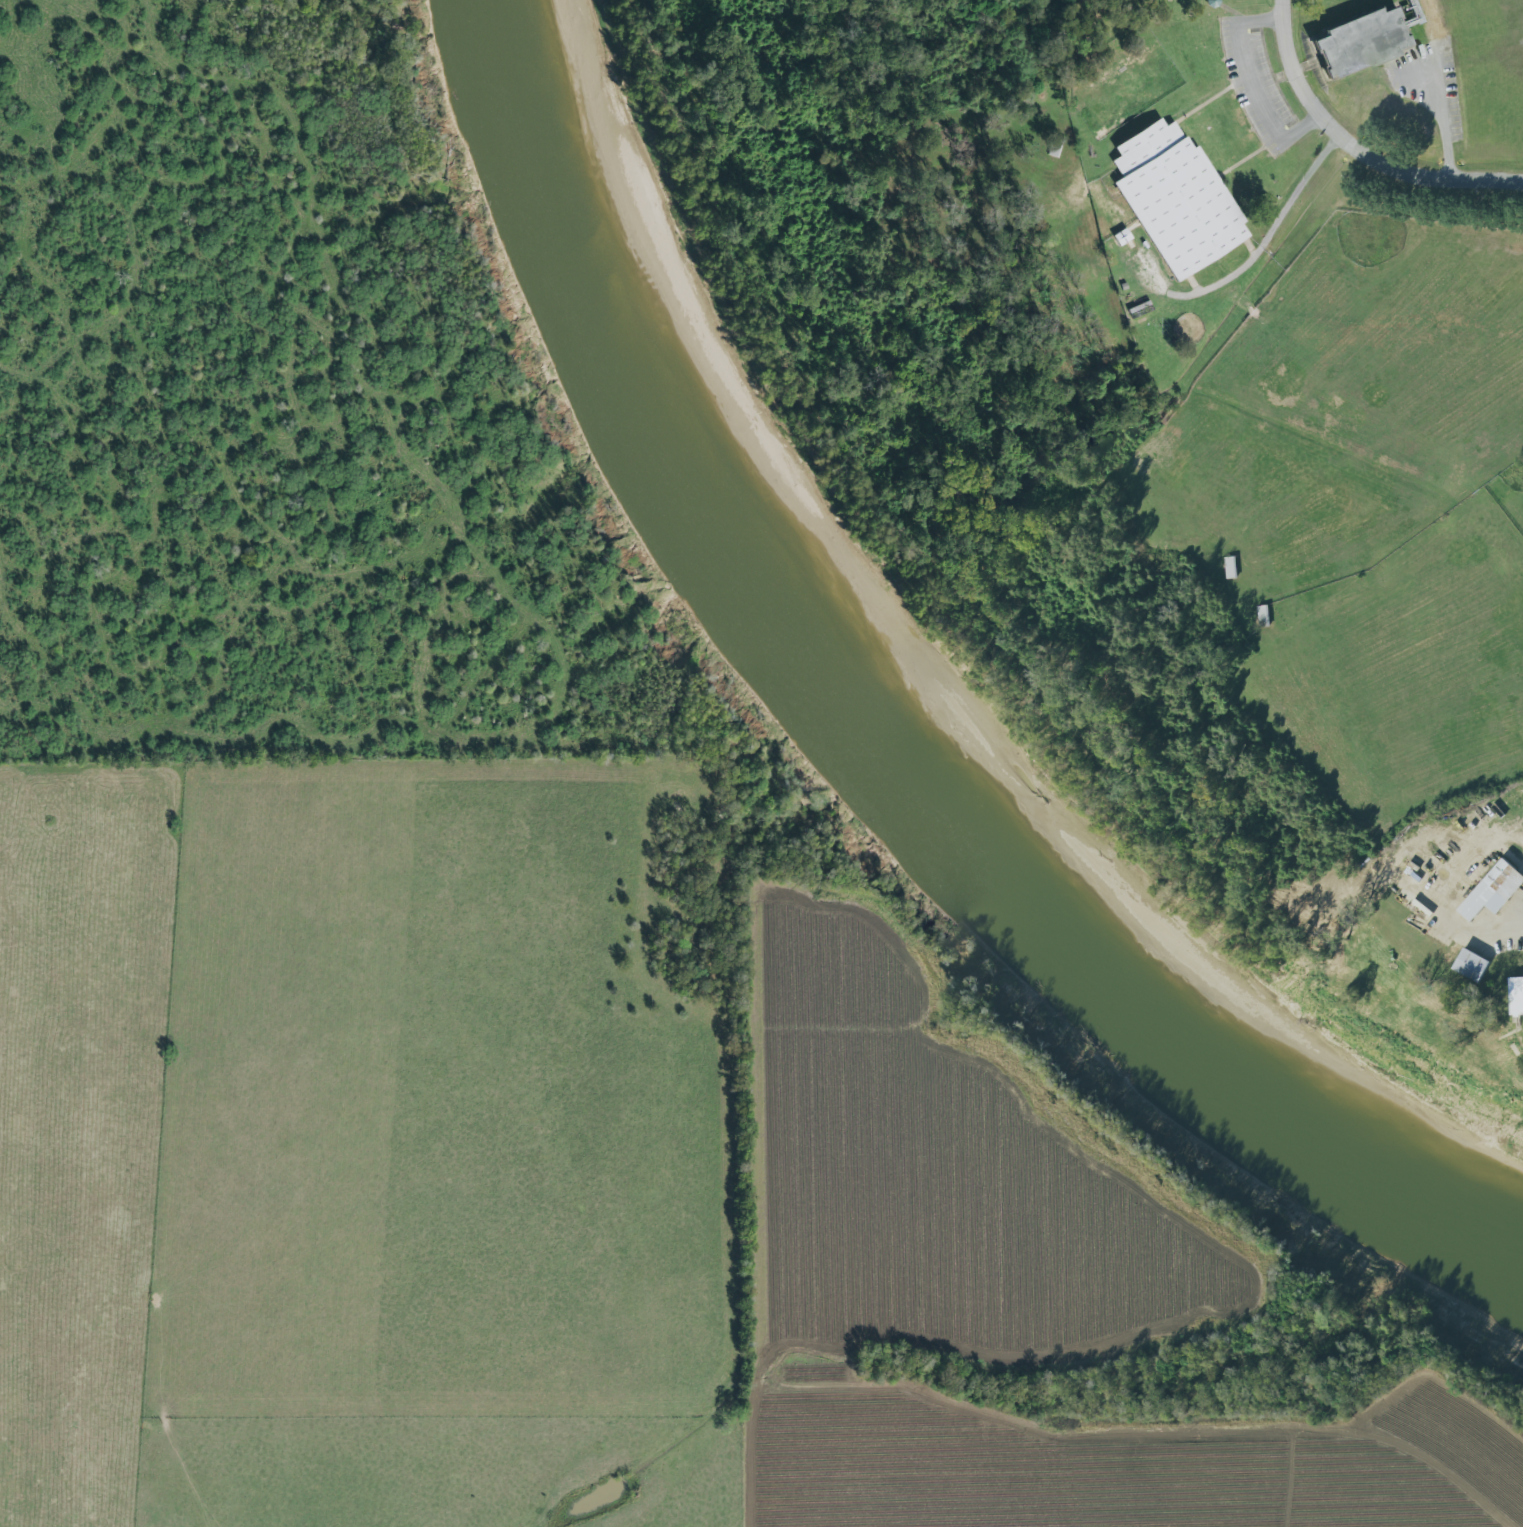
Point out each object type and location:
building: (1363, 43)
road: (1254, 82)
road: (1447, 87)
road: (1354, 151)
building: (1178, 199)
road: (1262, 236)
building: (1231, 568)
building: (1264, 617)
river: (882, 733)
building: (1494, 890)
building: (1472, 965)
building: (1517, 995)
road: (1409, 1458)

